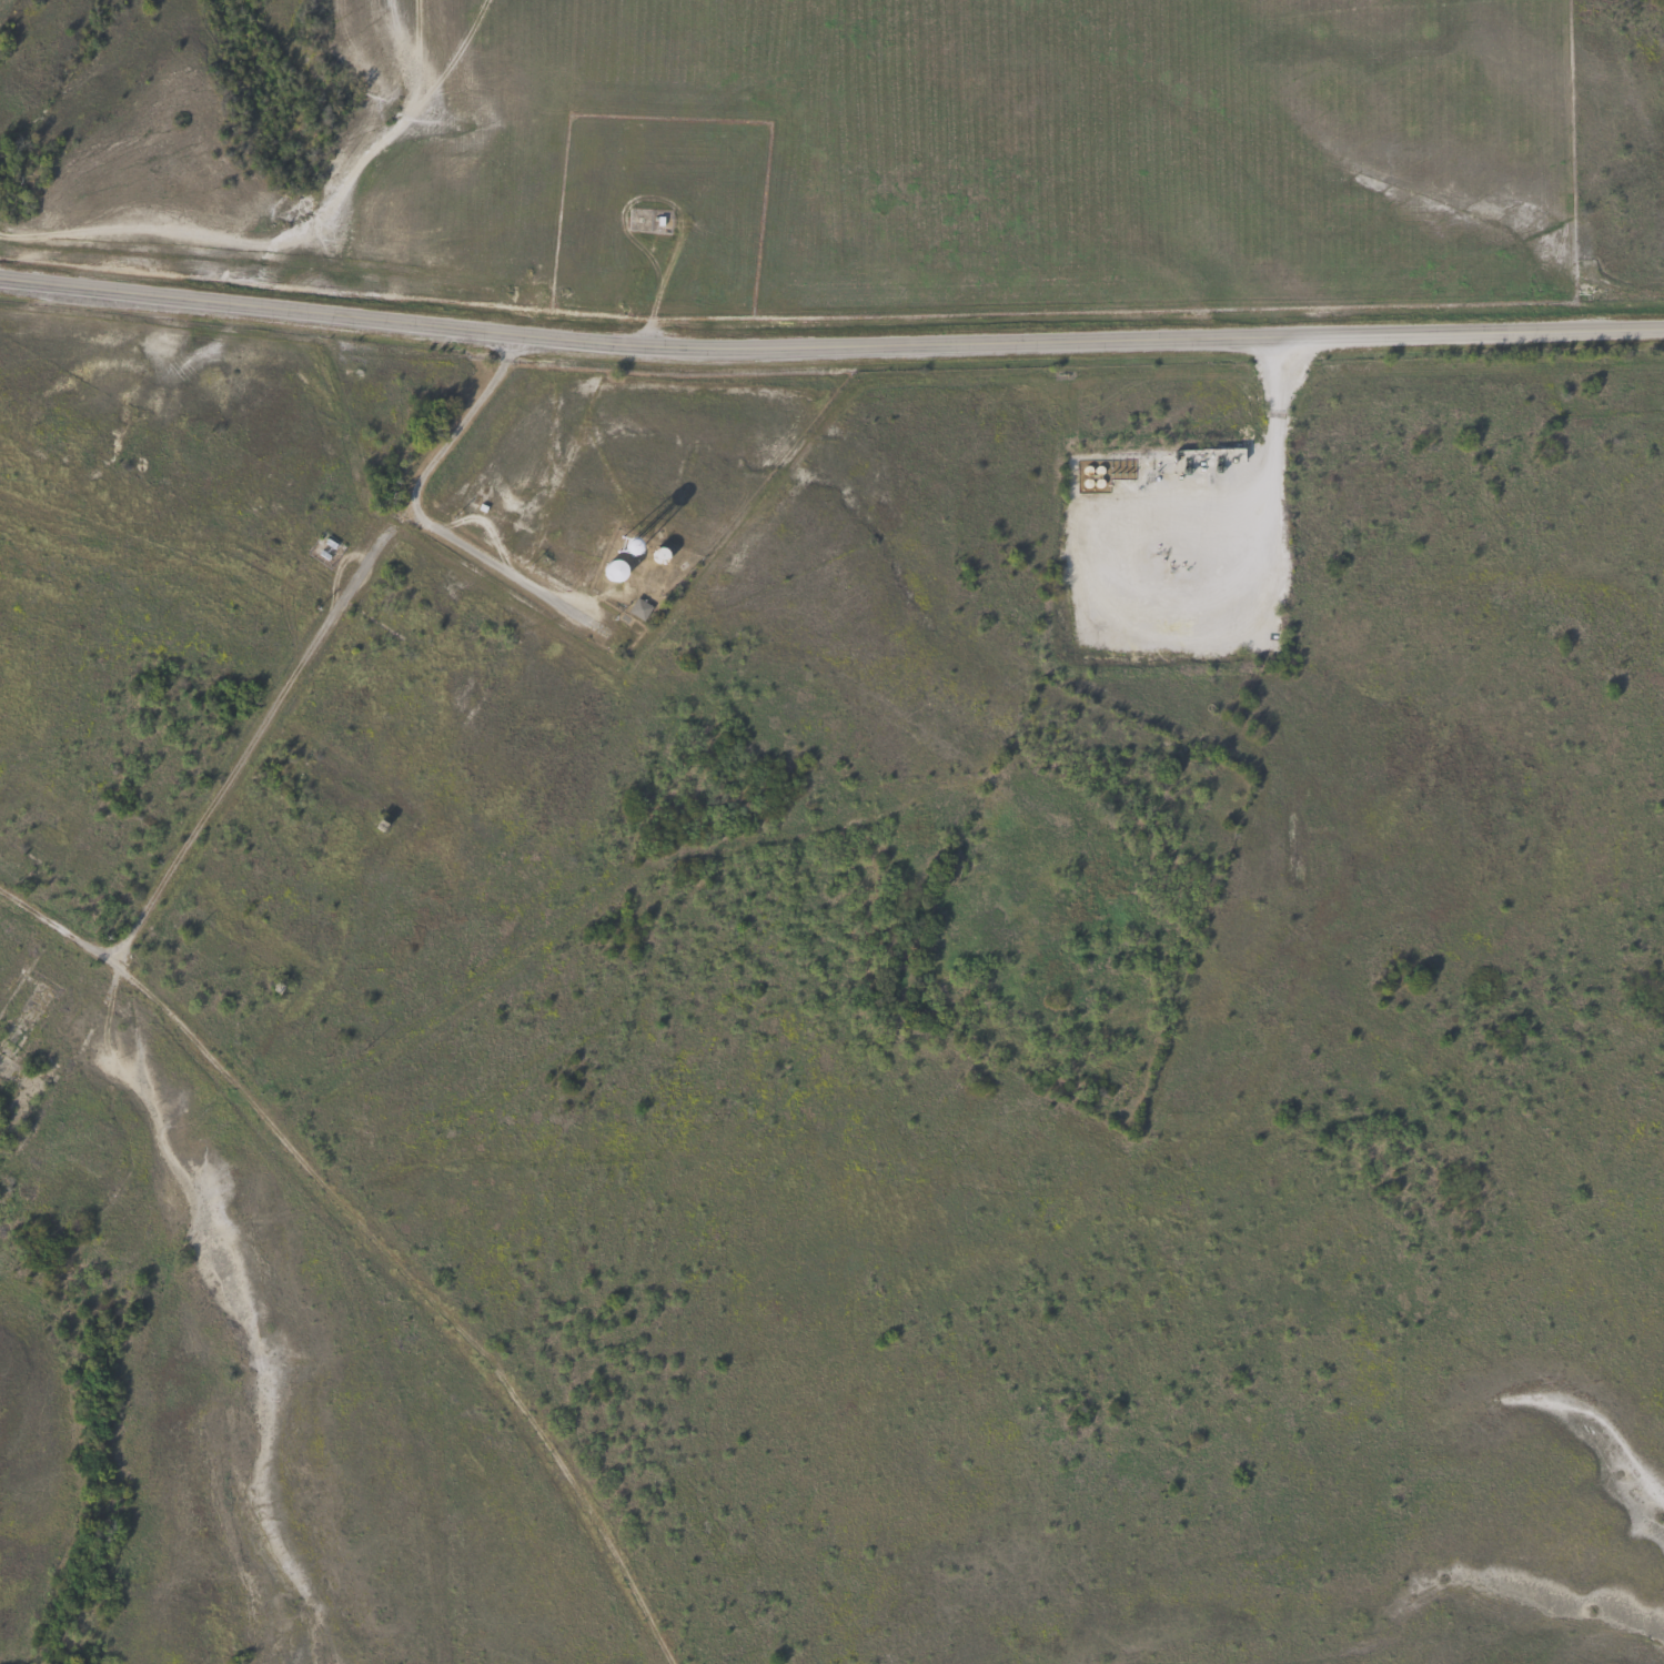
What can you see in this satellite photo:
road: (829, 343)
road: (1253, 486)
building: (627, 545)
building: (657, 555)
road: (498, 569)
building: (613, 571)
building: (637, 608)
road: (316, 643)
road: (59, 924)
road: (423, 1291)

